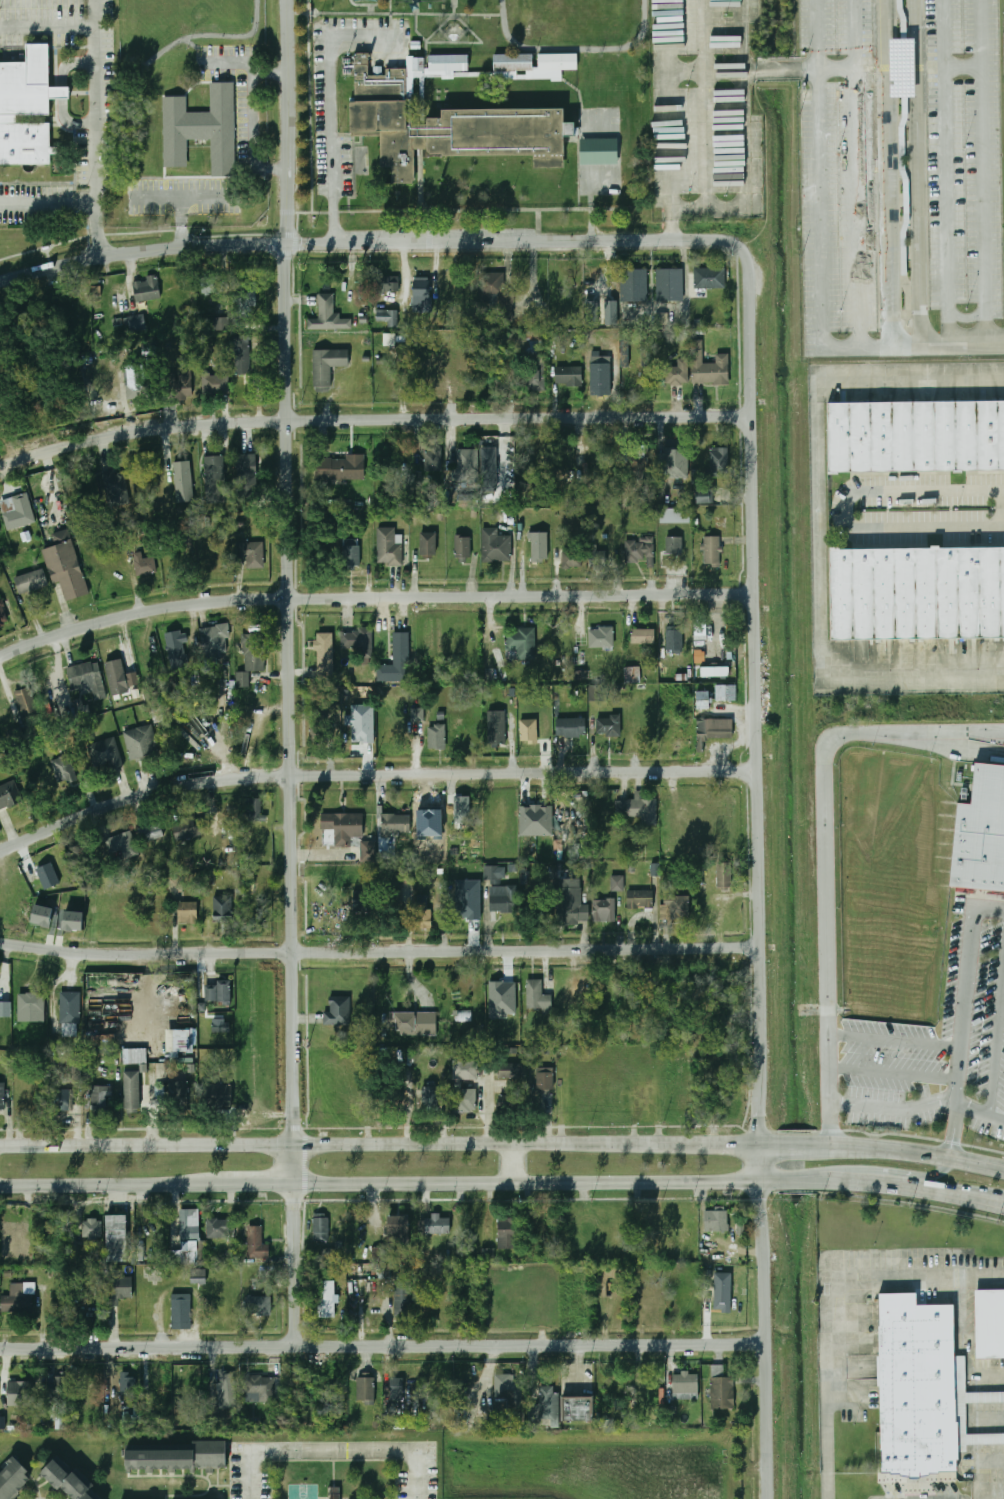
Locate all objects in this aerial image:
road: (93, 15)
parking lot: (701, 27)
road: (46, 31)
building: (513, 60)
road: (865, 67)
road: (883, 67)
road: (894, 67)
road: (903, 67)
road: (912, 67)
road: (920, 67)
road: (935, 67)
road: (964, 67)
building: (903, 68)
road: (837, 69)
road: (744, 71)
building: (60, 94)
road: (329, 104)
building: (25, 110)
road: (669, 120)
road: (290, 122)
building: (449, 125)
building: (200, 129)
road: (93, 143)
building: (597, 151)
parking lot: (706, 153)
road: (926, 154)
parking lot: (965, 155)
road: (821, 167)
parking lot: (837, 168)
road: (984, 170)
road: (919, 171)
road: (946, 171)
road: (857, 172)
road: (889, 172)
road: (47, 199)
road: (905, 200)
road: (481, 242)
road: (143, 251)
building: (709, 278)
building: (669, 284)
building: (212, 285)
building: (385, 285)
building: (633, 285)
building: (145, 289)
building: (495, 293)
building: (247, 294)
building: (422, 295)
building: (610, 312)
building: (592, 313)
building: (330, 315)
building: (385, 318)
building: (129, 323)
road: (907, 323)
building: (219, 324)
road: (904, 334)
building: (389, 339)
road: (962, 342)
building: (528, 343)
road: (908, 343)
road: (855, 345)
building: (241, 355)
building: (645, 355)
building: (326, 366)
building: (709, 367)
building: (434, 372)
building: (678, 372)
building: (537, 375)
building: (569, 375)
building: (601, 376)
building: (216, 380)
building: (180, 384)
road: (371, 421)
building: (916, 434)
road: (824, 439)
building: (524, 456)
building: (433, 459)
building: (718, 462)
building: (674, 463)
building: (466, 464)
building: (558, 466)
building: (340, 467)
building: (640, 468)
building: (488, 469)
building: (180, 474)
building: (248, 477)
building: (214, 479)
building: (115, 488)
building: (706, 496)
building: (466, 501)
road: (844, 508)
building: (18, 511)
building: (675, 515)
building: (0, 528)
building: (428, 544)
building: (492, 545)
building: (674, 545)
building: (388, 546)
building: (462, 547)
building: (540, 547)
building: (639, 551)
building: (712, 551)
building: (351, 552)
building: (251, 553)
building: (598, 558)
building: (571, 559)
building: (144, 564)
building: (65, 565)
building: (31, 581)
building: (916, 591)
road: (373, 599)
building: (3, 616)
building: (643, 636)
building: (601, 637)
building: (214, 639)
building: (357, 640)
building: (674, 640)
building: (520, 644)
building: (176, 647)
building: (398, 652)
building: (324, 654)
building: (251, 657)
road: (757, 659)
building: (112, 664)
building: (715, 671)
building: (633, 674)
road: (919, 674)
building: (87, 680)
building: (595, 692)
building: (726, 692)
road: (290, 694)
building: (704, 699)
building: (26, 703)
building: (82, 709)
building: (417, 714)
building: (361, 723)
building: (608, 726)
building: (495, 727)
building: (565, 727)
building: (715, 729)
building: (528, 730)
building: (319, 731)
building: (436, 736)
building: (140, 743)
building: (108, 753)
building: (64, 769)
road: (373, 775)
building: (53, 780)
building: (8, 795)
building: (252, 809)
building: (461, 810)
building: (639, 810)
building: (536, 820)
building: (396, 824)
building: (343, 826)
building: (194, 827)
building: (981, 831)
building: (151, 832)
building: (121, 844)
building: (369, 850)
road: (826, 854)
building: (656, 869)
building: (45, 873)
building: (405, 874)
building: (493, 874)
building: (724, 875)
building: (617, 883)
building: (175, 884)
building: (468, 899)
building: (640, 899)
building: (363, 900)
building: (502, 901)
building: (571, 902)
building: (394, 903)
building: (678, 907)
building: (224, 908)
building: (604, 910)
building: (42, 915)
building: (424, 915)
building: (188, 917)
building: (73, 921)
road: (380, 953)
building: (218, 992)
building: (537, 996)
building: (31, 1007)
building: (69, 1009)
building: (337, 1011)
building: (465, 1016)
road: (963, 1017)
building: (415, 1023)
building: (220, 1026)
road: (997, 1039)
building: (180, 1040)
road: (895, 1040)
building: (134, 1055)
building: (72, 1068)
building: (509, 1070)
road: (894, 1074)
building: (545, 1079)
building: (457, 1084)
building: (177, 1091)
building: (132, 1092)
building: (2, 1096)
building: (99, 1098)
building: (430, 1098)
building: (62, 1100)
building: (220, 1104)
building: (507, 1104)
road: (980, 1108)
road: (894, 1109)
road: (148, 1144)
road: (529, 1144)
road: (791, 1144)
road: (912, 1151)
road: (522, 1164)
road: (762, 1164)
road: (296, 1165)
road: (918, 1179)
road: (529, 1184)
road: (107, 1185)
road: (255, 1186)
road: (883, 1186)
building: (715, 1221)
building: (400, 1224)
building: (437, 1225)
building: (92, 1228)
building: (220, 1228)
building: (320, 1228)
building: (506, 1231)
building: (117, 1238)
building: (188, 1238)
building: (257, 1243)
building: (378, 1254)
building: (487, 1254)
road: (295, 1267)
building: (198, 1276)
building: (120, 1289)
building: (22, 1298)
building: (326, 1299)
building: (403, 1300)
building: (722, 1300)
road: (828, 1305)
building: (91, 1307)
building: (181, 1309)
building: (259, 1310)
building: (989, 1323)
road: (765, 1341)
road: (383, 1348)
building: (915, 1385)
building: (128, 1386)
building: (686, 1386)
building: (259, 1388)
building: (365, 1388)
building: (54, 1389)
building: (226, 1389)
building: (396, 1389)
building: (507, 1391)
building: (722, 1392)
building: (19, 1393)
building: (547, 1402)
building: (15, 1408)
building: (579, 1409)
building: (960, 1409)
building: (58, 1415)
road: (334, 1450)
building: (184, 1458)
building: (14, 1479)
building: (71, 1482)
building: (333, 1492)

